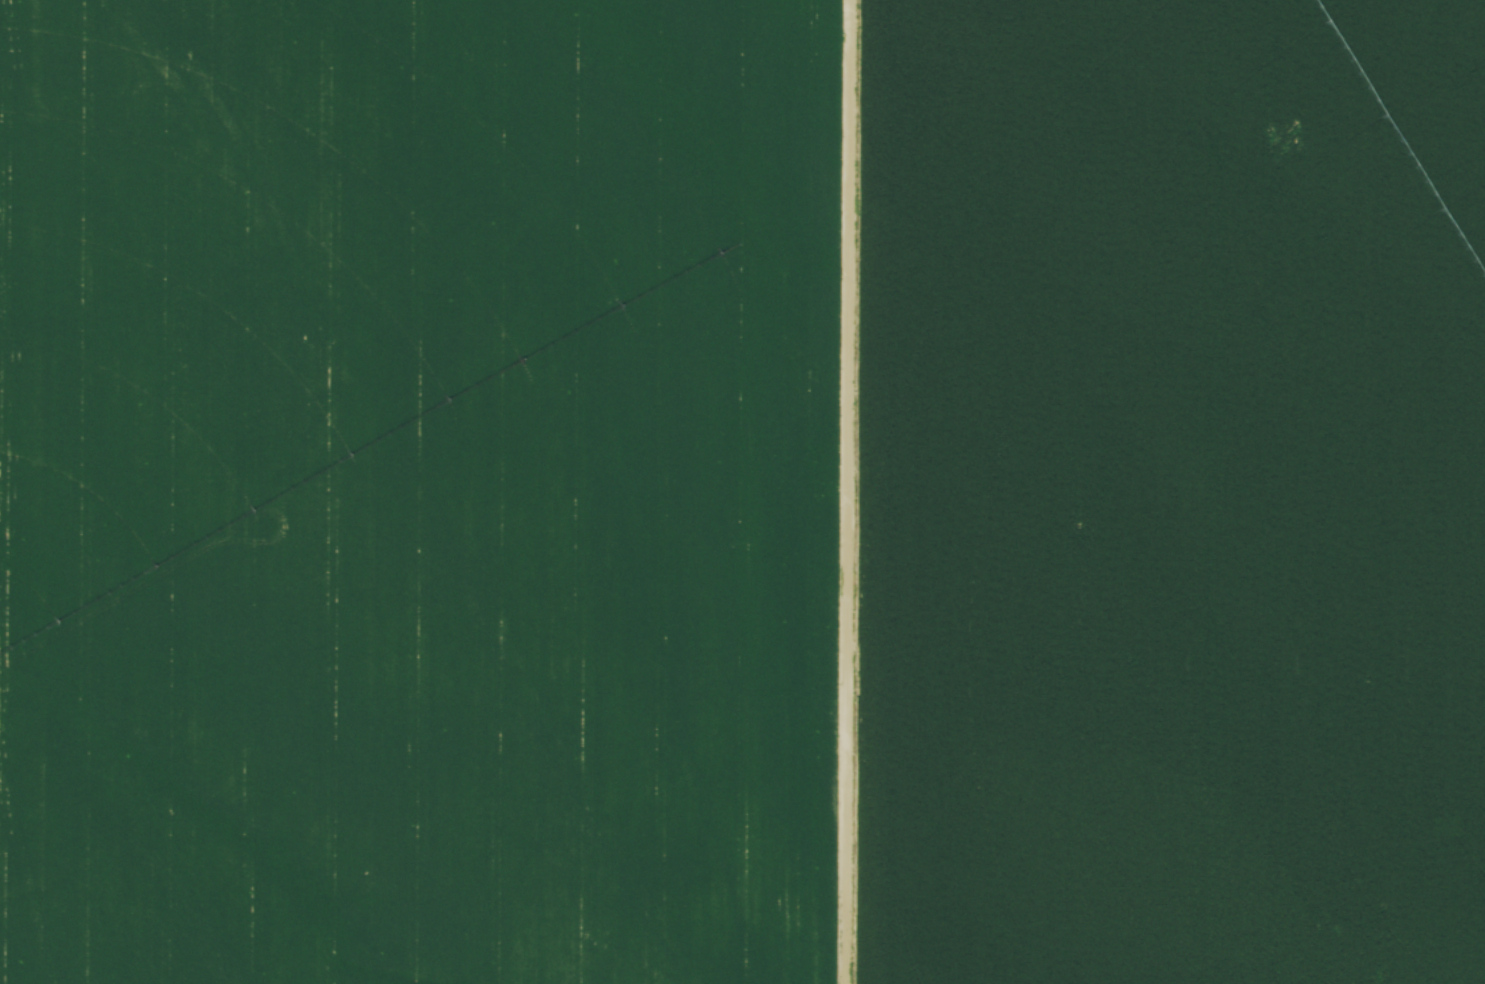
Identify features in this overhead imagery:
road: (850, 492)

